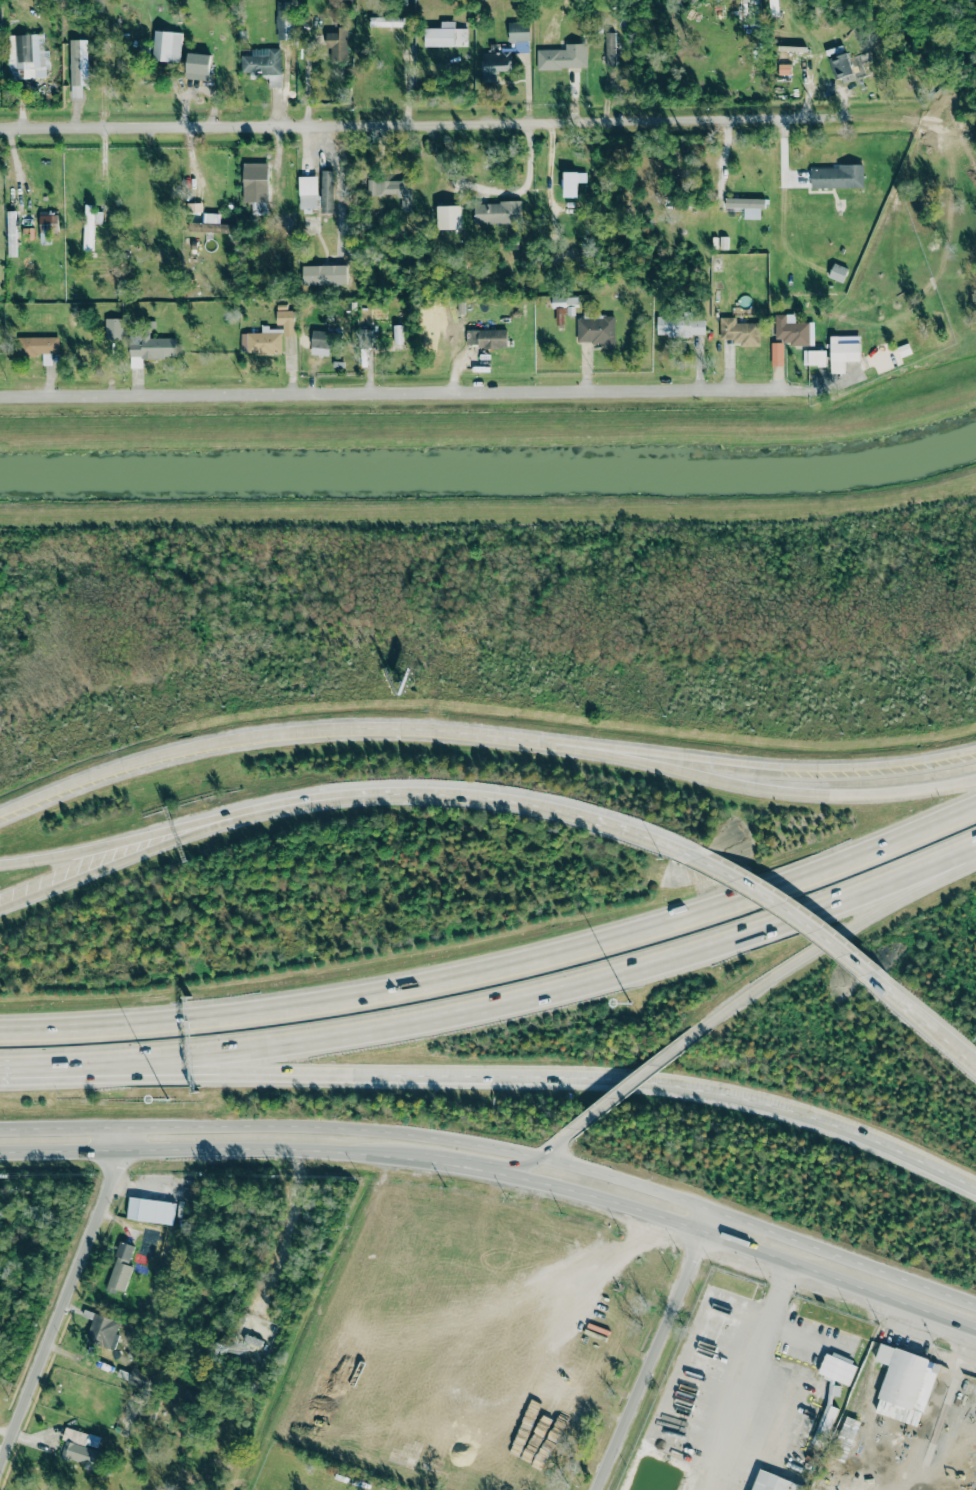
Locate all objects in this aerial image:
building: (284, 20)
building: (385, 21)
building: (518, 31)
building: (445, 35)
building: (338, 44)
building: (167, 46)
building: (610, 49)
building: (27, 56)
building: (563, 57)
building: (264, 64)
building: (496, 64)
building: (79, 66)
building: (198, 66)
building: (841, 67)
road: (306, 78)
road: (410, 123)
building: (838, 177)
building: (255, 182)
building: (570, 184)
building: (392, 190)
building: (327, 191)
building: (308, 192)
building: (747, 206)
building: (498, 212)
building: (449, 217)
building: (211, 224)
building: (90, 225)
building: (47, 226)
building: (11, 233)
building: (563, 254)
building: (838, 272)
building: (324, 274)
building: (564, 307)
building: (286, 320)
building: (680, 325)
building: (114, 329)
building: (596, 329)
building: (792, 330)
building: (739, 331)
building: (397, 334)
building: (486, 337)
building: (365, 338)
building: (262, 341)
building: (321, 342)
building: (151, 346)
building: (39, 347)
building: (843, 352)
building: (776, 354)
building: (814, 358)
road: (398, 392)
road: (483, 731)
road: (775, 788)
road: (459, 796)
road: (104, 847)
road: (103, 866)
road: (794, 916)
road: (826, 946)
road: (498, 971)
road: (585, 983)
road: (927, 1021)
road: (90, 1067)
road: (586, 1084)
road: (628, 1088)
road: (272, 1126)
road: (211, 1154)
road: (545, 1157)
road: (469, 1167)
building: (151, 1210)
road: (760, 1227)
road: (747, 1248)
building: (120, 1268)
road: (65, 1297)
building: (103, 1331)
road: (654, 1349)
road: (747, 1360)
building: (837, 1369)
building: (138, 1377)
building: (904, 1384)
building: (826, 1418)
building: (81, 1448)
building: (774, 1483)

